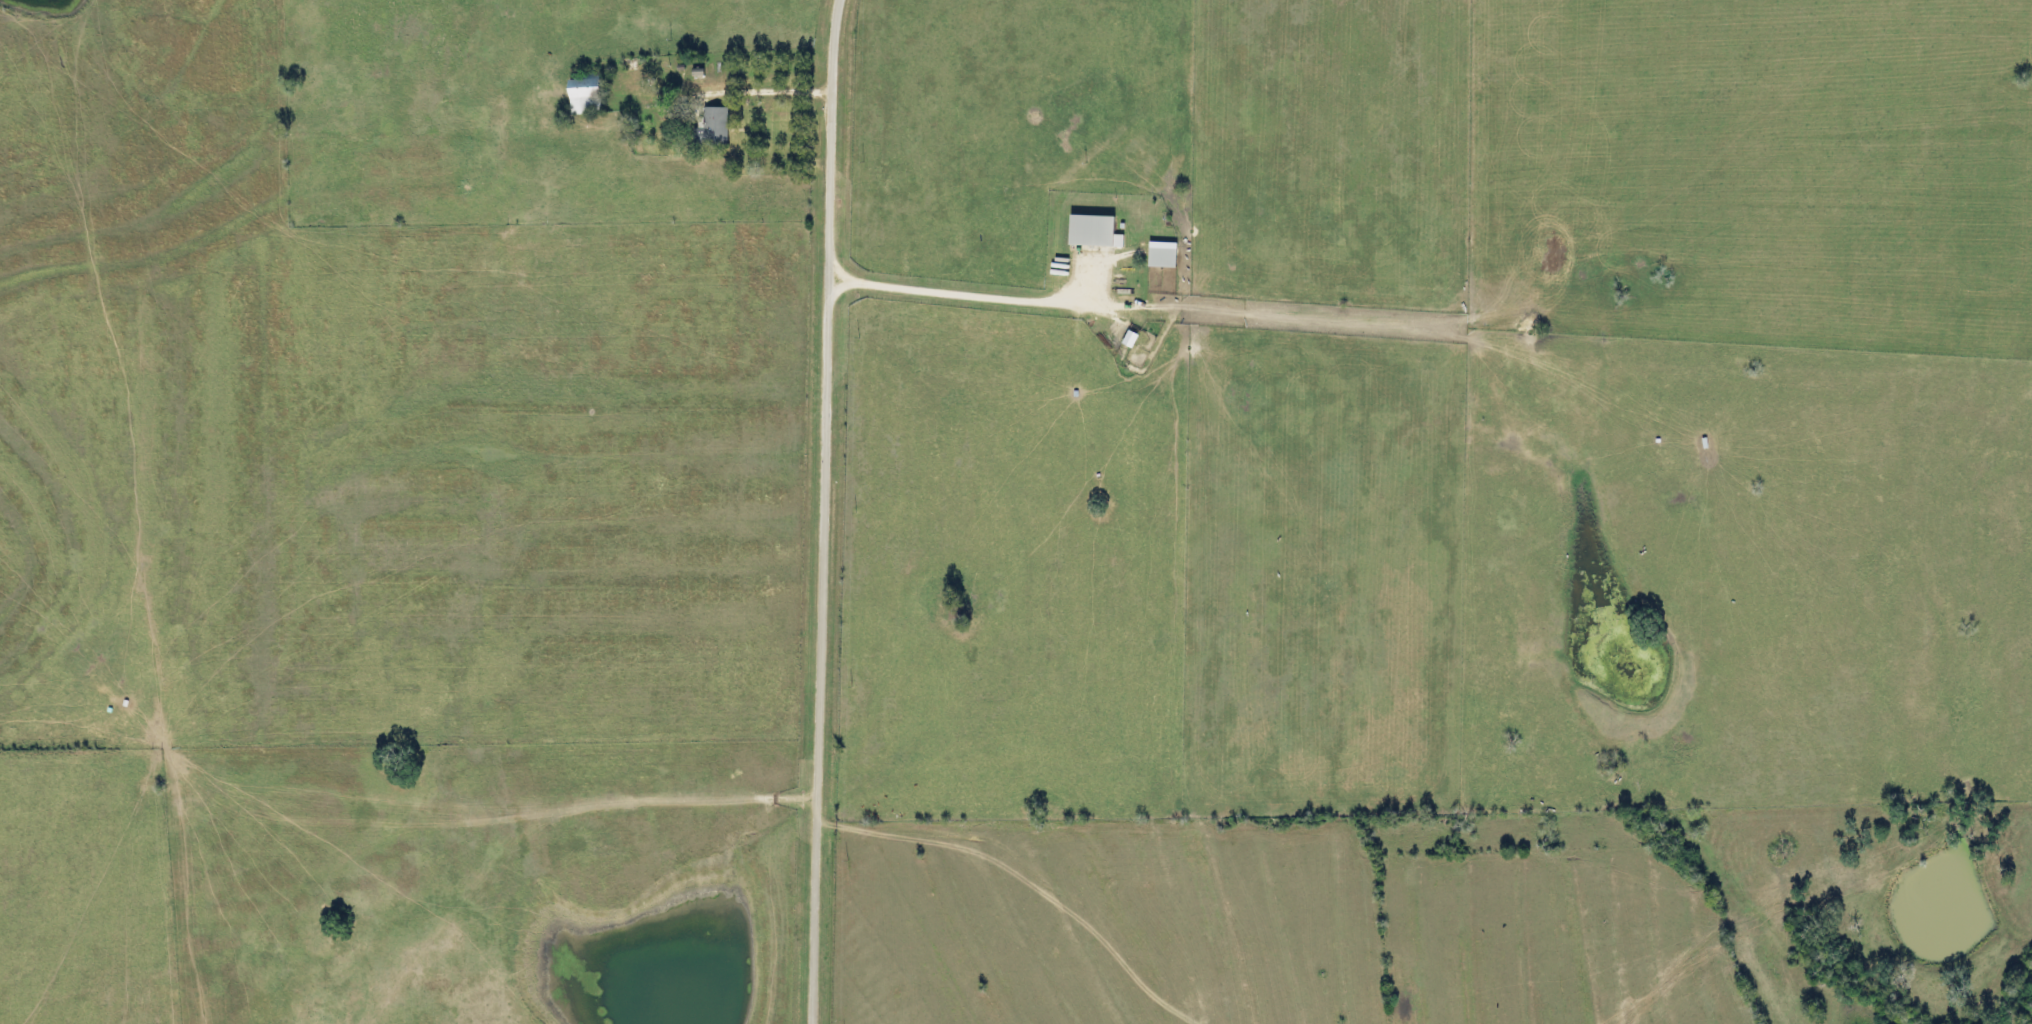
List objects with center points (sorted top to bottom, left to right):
road: (780, 91)
building: (592, 95)
building: (717, 127)
building: (1154, 258)
road: (952, 292)
road: (825, 511)

